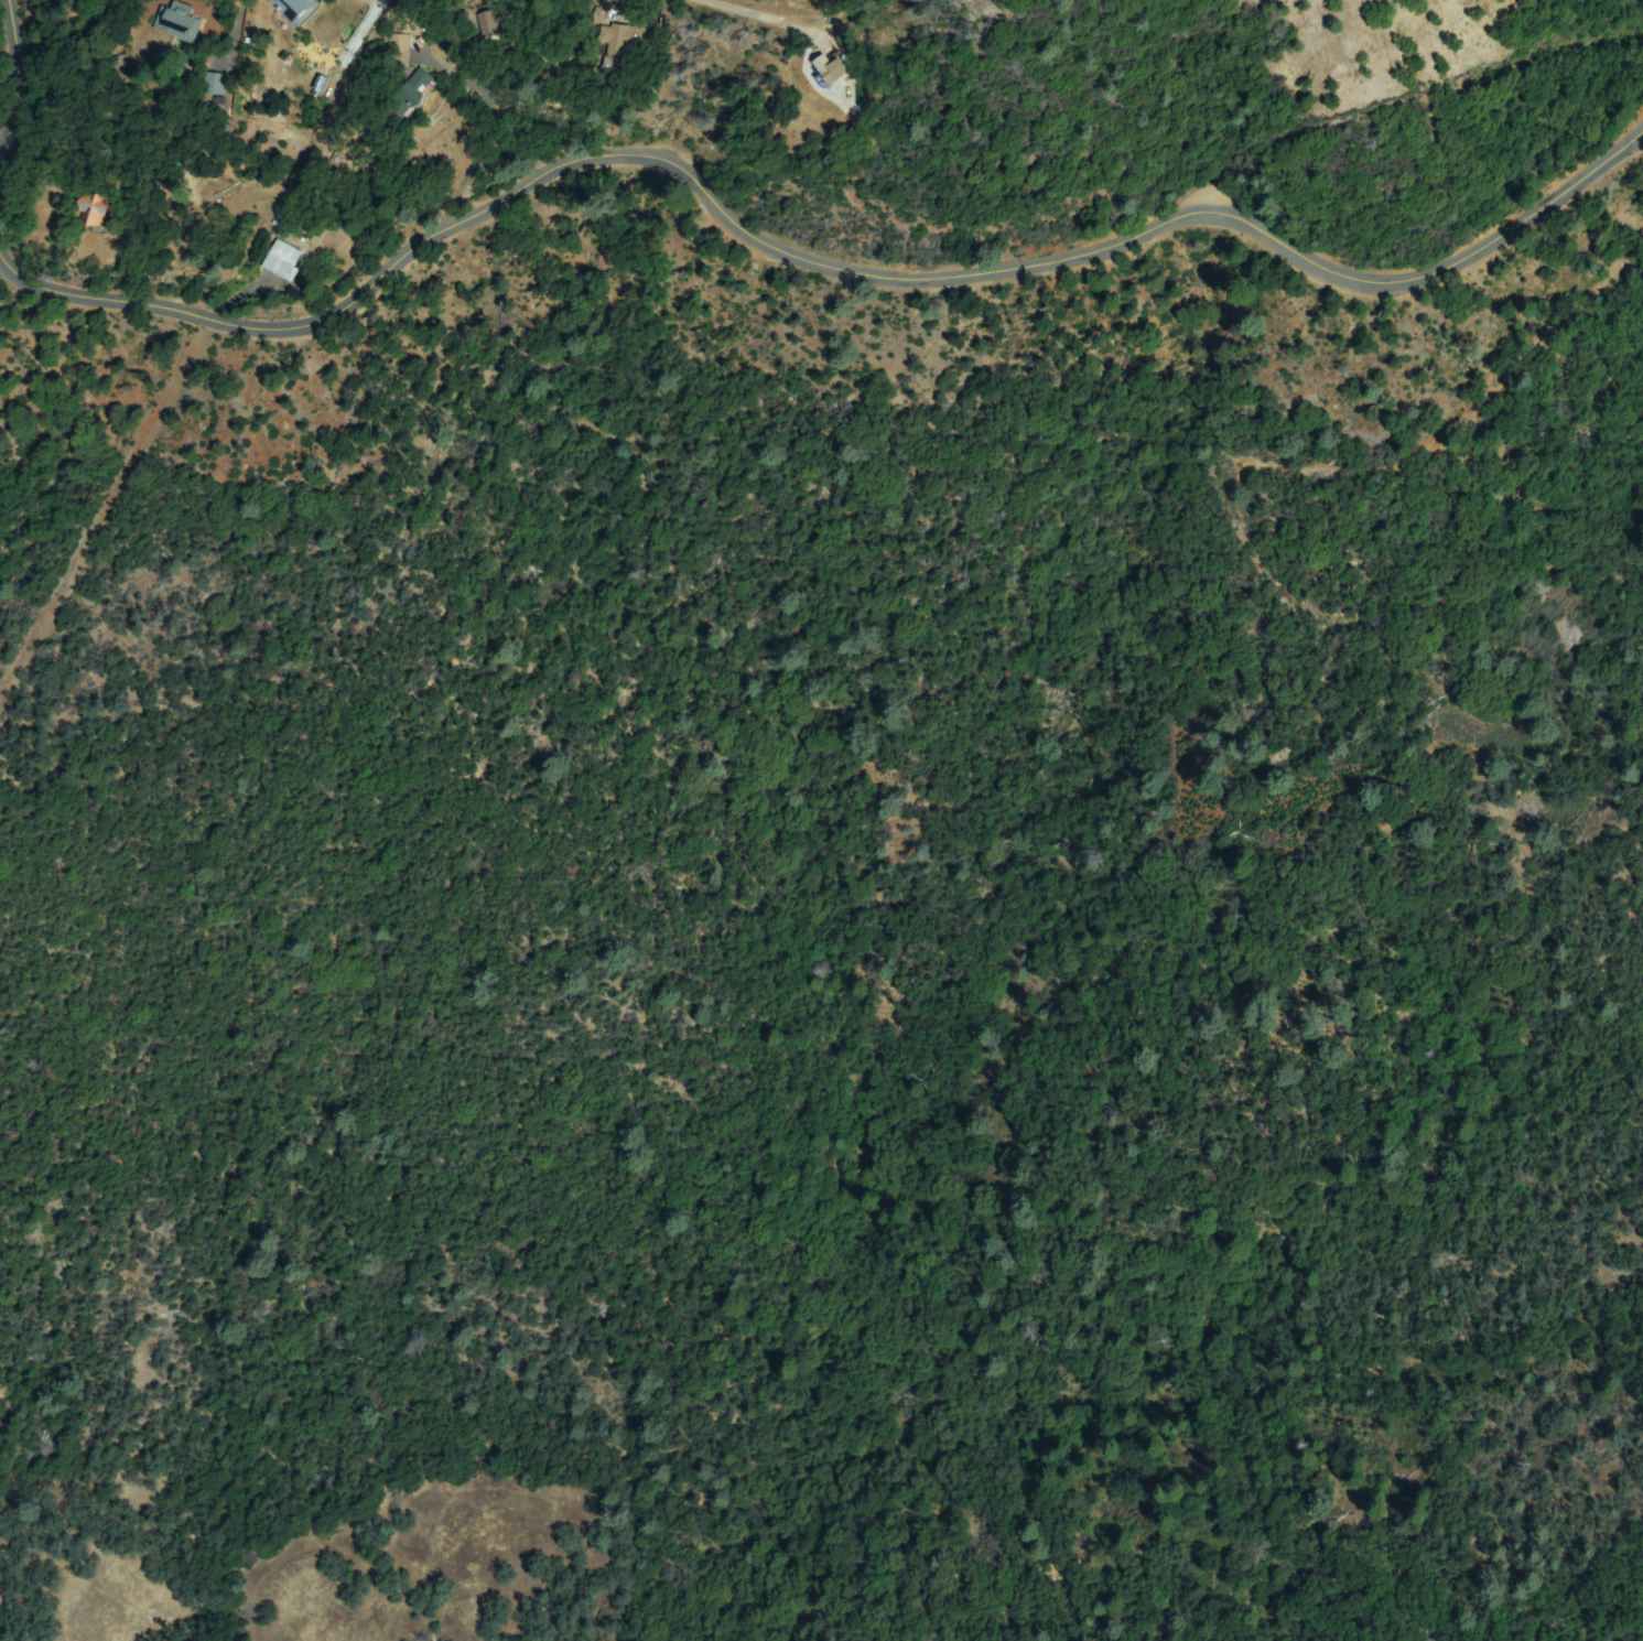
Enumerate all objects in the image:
building: (293, 9)
building: (673, 21)
building: (177, 22)
building: (488, 23)
building: (619, 43)
building: (399, 51)
building: (832, 74)
road: (8, 76)
building: (322, 80)
building: (215, 83)
building: (412, 91)
building: (93, 209)
road: (808, 257)
building: (284, 260)

